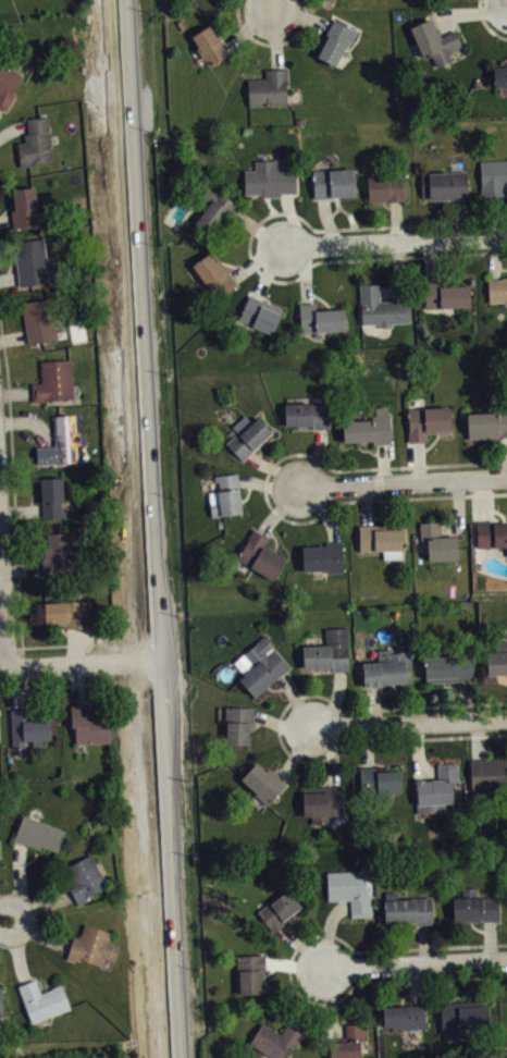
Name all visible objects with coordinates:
building: (214, 1)
building: (339, 1)
road: (271, 8)
road: (485, 24)
building: (335, 40)
building: (434, 41)
road: (271, 44)
building: (209, 45)
building: (499, 74)
building: (7, 85)
building: (268, 88)
building: (35, 142)
building: (271, 177)
building: (493, 177)
building: (333, 183)
building: (444, 185)
building: (386, 188)
building: (24, 207)
building: (214, 209)
road: (249, 247)
road: (394, 247)
building: (33, 262)
building: (212, 276)
building: (497, 290)
building: (445, 295)
building: (380, 307)
building: (260, 313)
building: (42, 319)
building: (320, 319)
building: (52, 380)
building: (307, 415)
building: (426, 422)
building: (487, 423)
building: (369, 429)
building: (247, 435)
building: (61, 442)
road: (396, 467)
road: (405, 487)
building: (50, 496)
building: (225, 496)
road: (350, 501)
road: (150, 529)
building: (491, 533)
building: (383, 539)
building: (436, 542)
building: (59, 551)
building: (260, 555)
building: (323, 557)
road: (3, 596)
building: (70, 613)
road: (72, 643)
road: (8, 647)
building: (327, 651)
building: (497, 660)
road: (126, 661)
road: (79, 665)
building: (259, 665)
building: (385, 667)
building: (448, 668)
road: (66, 686)
building: (89, 724)
building: (237, 724)
road: (408, 725)
building: (28, 727)
road: (279, 729)
building: (1, 733)
building: (489, 774)
building: (380, 782)
building: (262, 783)
building: (437, 787)
building: (321, 802)
building: (38, 834)
building: (0, 850)
building: (83, 878)
building: (349, 889)
building: (474, 907)
building: (407, 909)
building: (279, 910)
road: (3, 920)
building: (91, 946)
road: (413, 963)
road: (290, 970)
building: (250, 973)
building: (42, 1000)
building: (0, 1007)
building: (462, 1014)
building: (404, 1017)
building: (277, 1037)
building: (348, 1042)
parking lot: (108, 1057)

